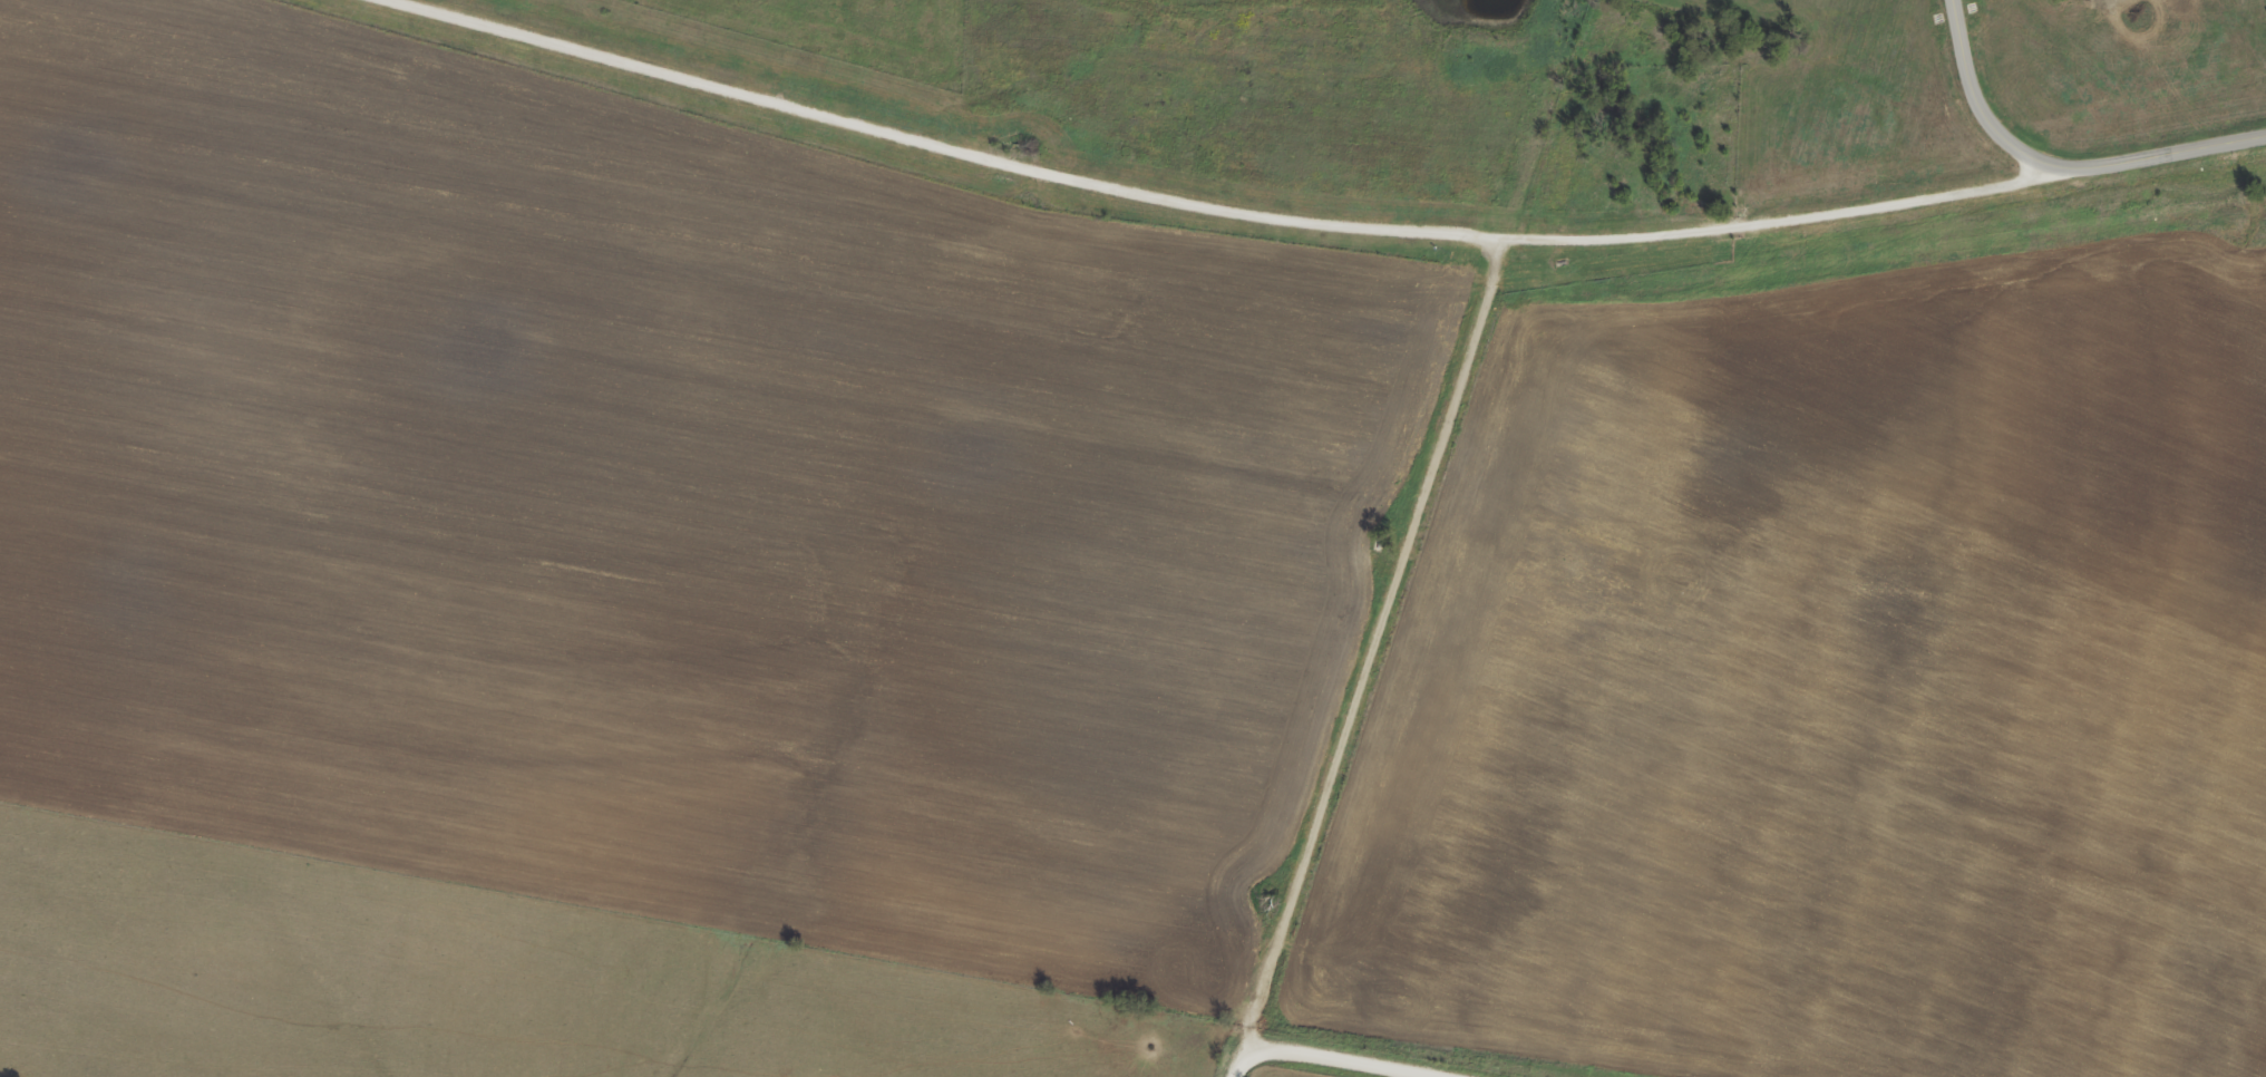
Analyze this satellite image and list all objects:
road: (739, 91)
road: (1974, 98)
road: (1671, 233)
road: (1389, 621)
road: (1341, 1058)
road: (1243, 1070)

